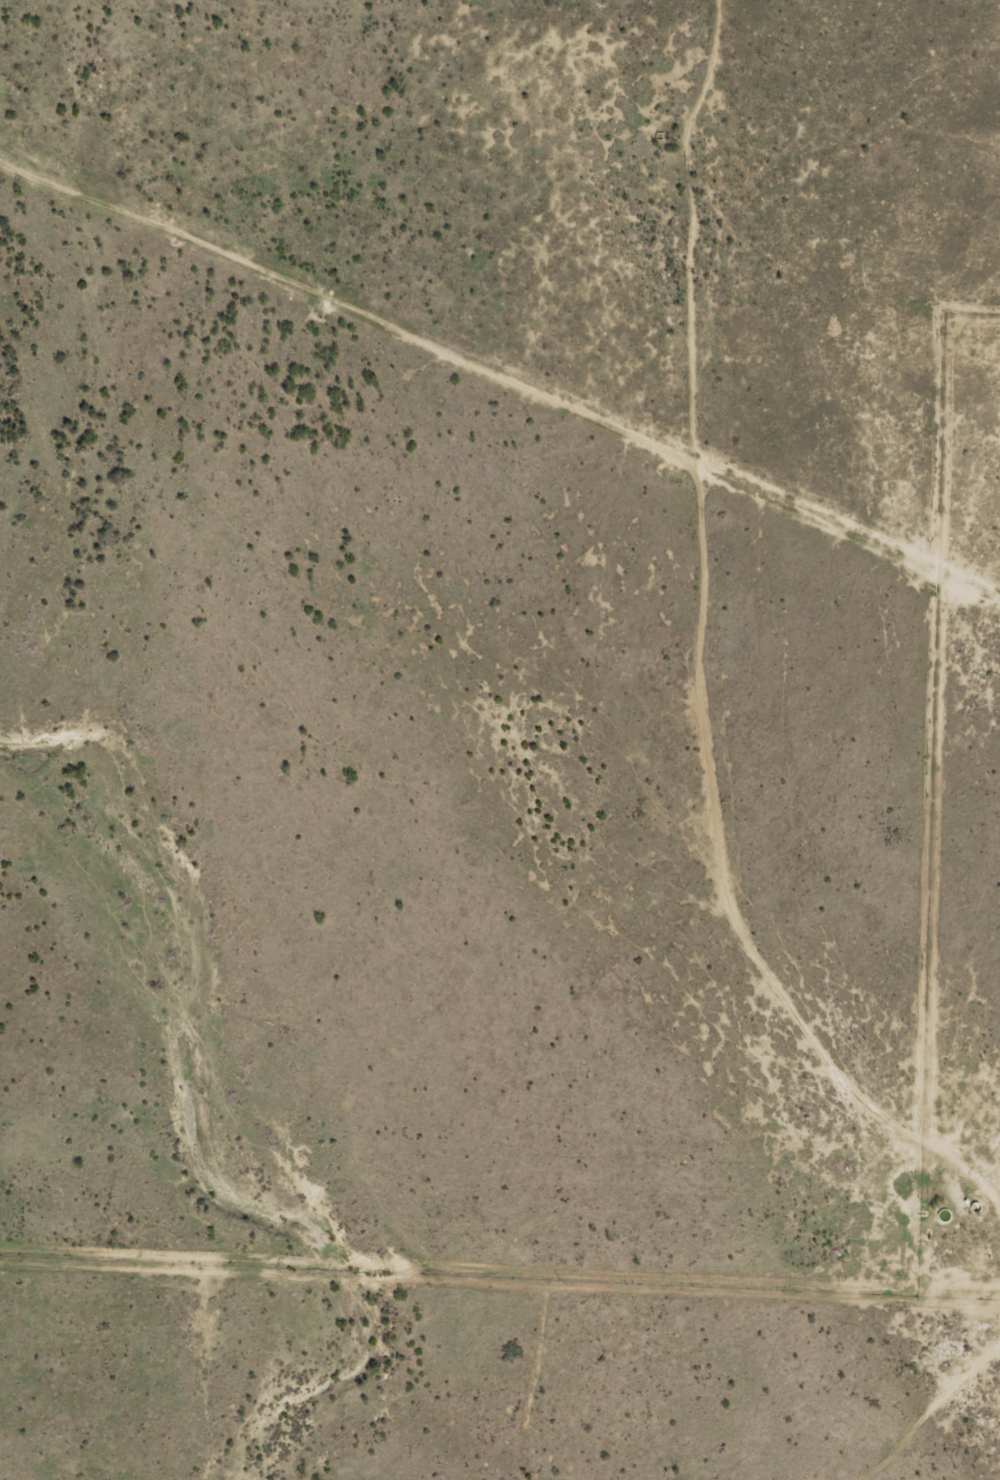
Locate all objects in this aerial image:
road: (995, 1259)
road: (943, 1419)

